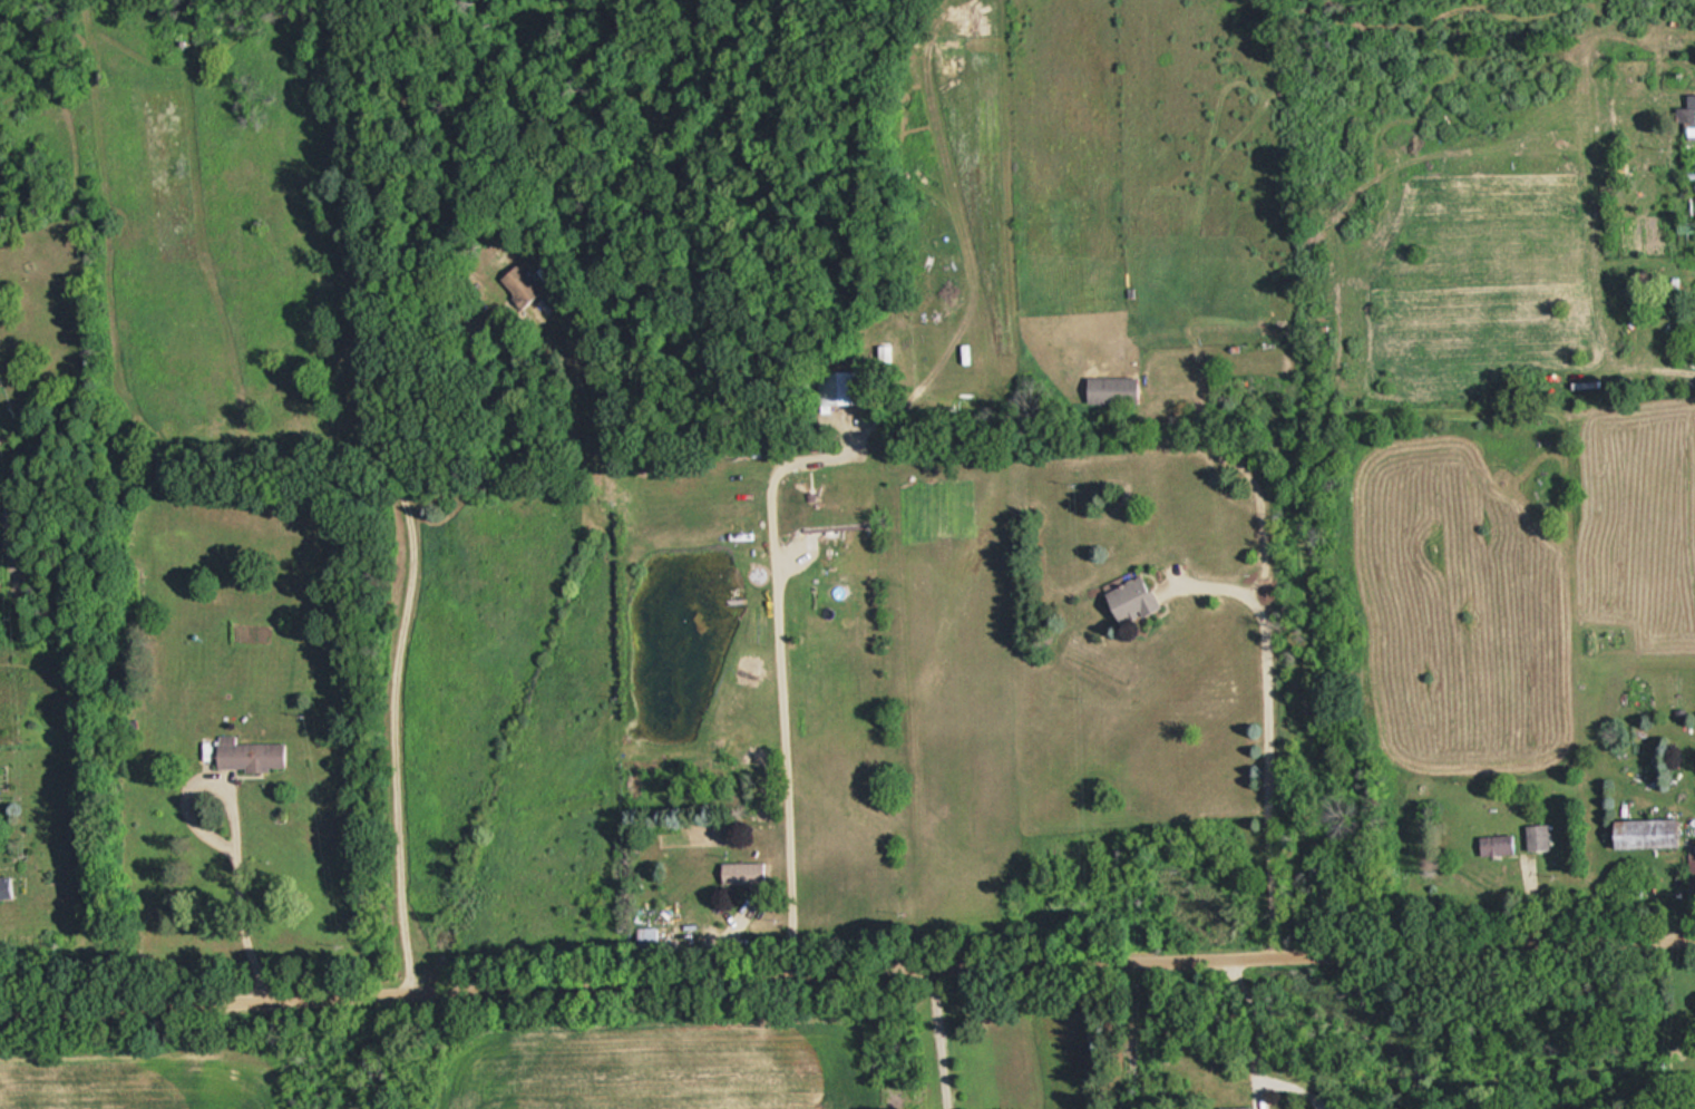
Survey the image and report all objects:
building: (1686, 114)
building: (516, 284)
building: (838, 386)
building: (1110, 389)
road: (412, 587)
building: (1129, 599)
road: (783, 674)
building: (660, 728)
road: (1272, 742)
building: (245, 755)
road: (233, 821)
building: (1642, 831)
building: (1537, 836)
building: (1496, 844)
building: (740, 872)
building: (646, 936)
road: (847, 954)
road: (1254, 1018)
road: (939, 1031)

